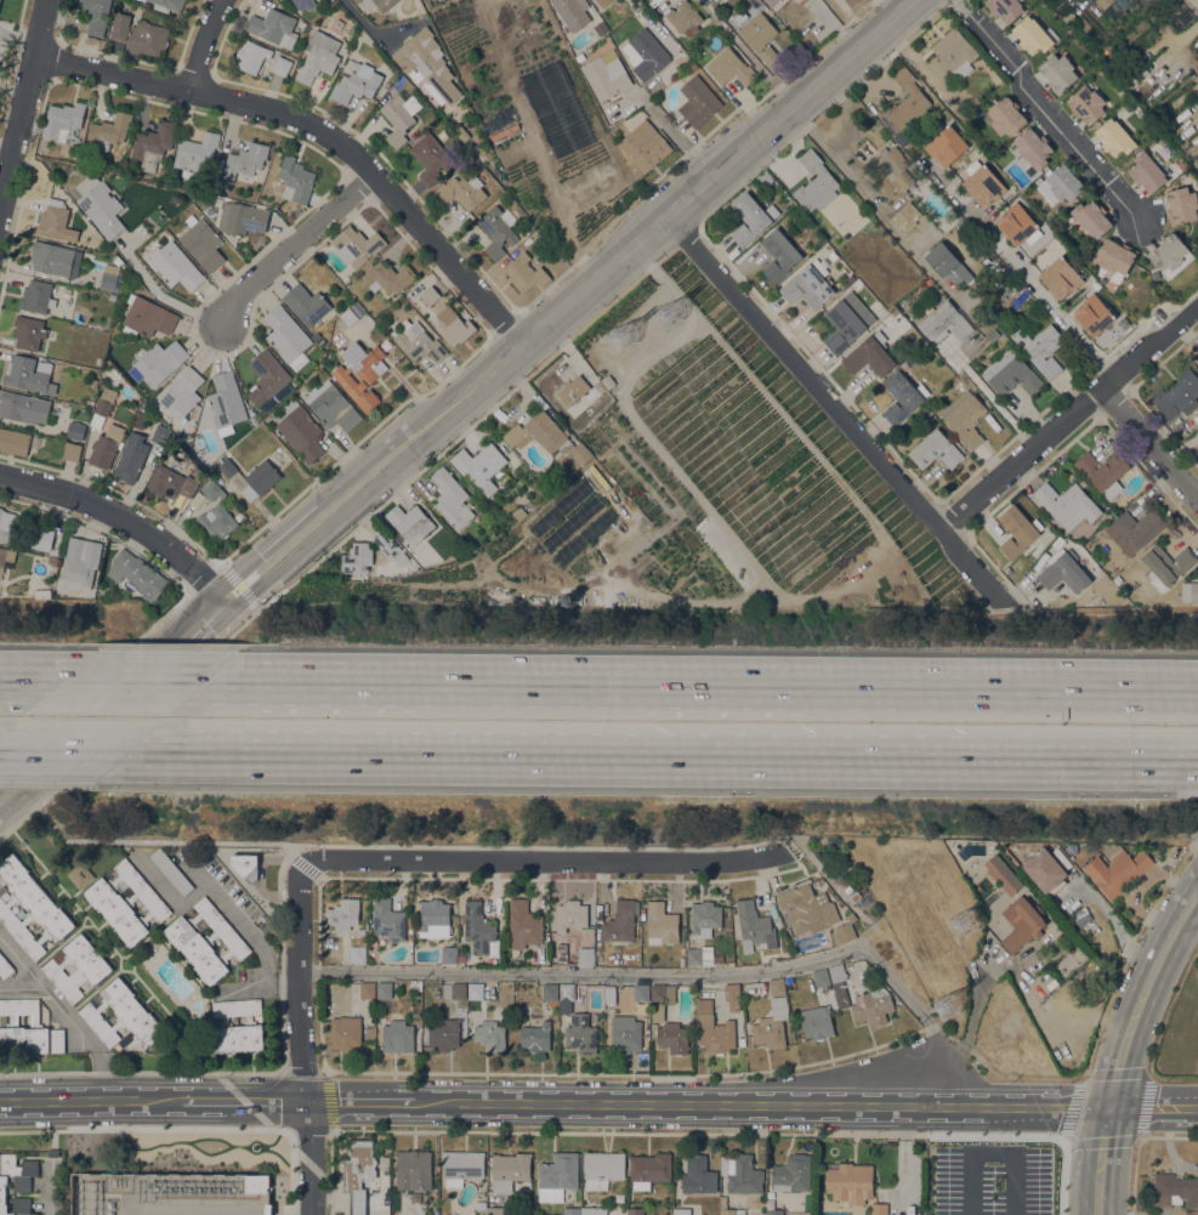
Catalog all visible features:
building: (643, 0)
building: (715, 0)
building: (717, 0)
building: (725, 0)
building: (0, 1)
building: (800, 1)
building: (603, 2)
building: (1103, 2)
building: (170, 4)
building: (302, 4)
building: (376, 4)
building: (776, 4)
building: (632, 7)
building: (1005, 8)
building: (573, 12)
building: (96, 15)
road: (360, 17)
building: (683, 17)
building: (120, 25)
building: (274, 27)
building: (601, 29)
building: (1033, 35)
building: (759, 36)
building: (146, 39)
road: (205, 45)
building: (646, 46)
building: (954, 51)
building: (250, 56)
building: (318, 56)
building: (579, 57)
building: (427, 62)
building: (282, 66)
building: (729, 67)
building: (1058, 73)
building: (606, 74)
building: (356, 81)
building: (697, 101)
building: (908, 101)
road: (23, 102)
building: (1086, 104)
road: (1047, 109)
building: (1005, 115)
building: (397, 119)
building: (63, 121)
road: (318, 130)
building: (108, 131)
building: (1114, 137)
road: (681, 142)
building: (153, 144)
building: (643, 144)
building: (947, 146)
building: (1033, 147)
building: (195, 153)
building: (431, 158)
building: (243, 161)
building: (892, 169)
building: (1147, 172)
building: (295, 180)
building: (814, 183)
building: (1060, 184)
building: (216, 186)
building: (983, 186)
building: (461, 191)
building: (252, 193)
building: (98, 204)
building: (217, 204)
building: (1181, 205)
building: (290, 217)
building: (751, 217)
building: (904, 217)
building: (1091, 217)
building: (242, 218)
building: (52, 221)
building: (1016, 223)
building: (944, 228)
building: (496, 229)
building: (201, 242)
building: (91, 243)
road: (291, 245)
building: (357, 245)
building: (1169, 251)
road: (669, 252)
building: (779, 255)
building: (833, 255)
building: (1115, 256)
building: (55, 259)
building: (944, 262)
building: (175, 266)
building: (844, 271)
building: (523, 272)
building: (1153, 273)
building: (108, 277)
building: (388, 277)
building: (1060, 277)
road: (1028, 278)
building: (810, 284)
building: (430, 295)
building: (36, 296)
building: (306, 303)
power tower: (672, 314)
building: (1094, 314)
building: (147, 317)
building: (348, 317)
building: (944, 323)
building: (453, 325)
building: (842, 325)
building: (29, 331)
building: (286, 333)
building: (995, 335)
power tower: (628, 340)
building: (419, 341)
building: (1040, 348)
building: (869, 354)
building: (1197, 357)
building: (158, 362)
building: (25, 373)
building: (360, 373)
building: (1011, 373)
building: (266, 376)
building: (606, 381)
building: (575, 390)
building: (181, 392)
building: (1179, 394)
building: (902, 397)
road: (456, 399)
building: (226, 402)
road: (994, 402)
building: (333, 405)
building: (23, 407)
building: (103, 407)
road: (833, 408)
building: (964, 418)
road: (1069, 419)
building: (75, 430)
building: (300, 430)
building: (536, 431)
building: (159, 435)
road: (456, 438)
building: (13, 441)
building: (106, 445)
road: (1151, 445)
building: (1197, 448)
building: (936, 449)
building: (72, 452)
building: (131, 456)
building: (574, 458)
building: (479, 465)
building: (227, 467)
building: (1102, 472)
building: (260, 479)
building: (171, 482)
building: (211, 490)
building: (452, 498)
building: (1067, 504)
building: (521, 511)
building: (238, 516)
road: (123, 517)
building: (217, 521)
building: (410, 522)
building: (8, 526)
building: (1134, 529)
building: (1017, 530)
building: (41, 538)
building: (385, 541)
building: (357, 557)
building: (1, 558)
building: (401, 558)
building: (52, 560)
building: (79, 563)
building: (1166, 564)
building: (1063, 570)
building: (136, 573)
building: (1119, 577)
road: (238, 584)
building: (1193, 591)
building: (41, 594)
road: (256, 607)
road: (91, 677)
road: (1, 681)
road: (1, 681)
road: (24, 682)
road: (124, 682)
road: (681, 685)
road: (1179, 687)
road: (129, 722)
road: (68, 753)
road: (564, 757)
road: (1096, 761)
road: (155, 840)
building: (964, 844)
building: (972, 845)
road: (289, 853)
road: (284, 856)
road: (541, 858)
road: (303, 865)
building: (1045, 870)
building: (1117, 870)
building: (171, 871)
building: (1003, 874)
building: (79, 875)
road: (319, 876)
building: (855, 896)
building: (125, 901)
building: (806, 907)
building: (30, 908)
building: (345, 914)
building: (570, 914)
building: (851, 916)
building: (704, 918)
building: (433, 919)
building: (460, 919)
building: (388, 920)
building: (620, 921)
power tower: (965, 921)
building: (523, 924)
building: (662, 924)
road: (870, 924)
building: (754, 926)
building: (1022, 926)
building: (479, 930)
building: (844, 932)
road: (249, 935)
building: (206, 939)
building: (808, 949)
building: (357, 953)
building: (449, 954)
building: (702, 954)
building: (585, 955)
building: (461, 958)
building: (5, 967)
building: (95, 967)
road: (674, 972)
building: (836, 972)
building: (821, 977)
building: (1050, 980)
road: (297, 982)
road: (269, 983)
road: (285, 983)
road: (19, 986)
building: (414, 986)
building: (777, 987)
building: (367, 989)
building: (384, 989)
building: (475, 990)
building: (459, 992)
building: (550, 992)
building: (641, 992)
building: (663, 992)
road: (1145, 993)
building: (566, 995)
building: (732, 995)
power tower: (947, 1004)
building: (873, 1005)
building: (658, 1011)
road: (66, 1014)
building: (121, 1015)
building: (816, 1022)
building: (772, 1024)
building: (238, 1026)
building: (28, 1028)
building: (712, 1028)
building: (345, 1032)
building: (443, 1032)
building: (580, 1033)
building: (625, 1034)
building: (490, 1035)
building: (397, 1037)
building: (535, 1037)
building: (672, 1037)
road: (320, 1039)
building: (740, 1040)
road: (280, 1071)
road: (325, 1071)
road: (301, 1072)
road: (350, 1100)
road: (246, 1101)
road: (92, 1102)
road: (750, 1102)
road: (1153, 1106)
road: (184, 1130)
road: (311, 1130)
road: (333, 1131)
road: (289, 1132)
road: (693, 1134)
building: (53, 1152)
road: (992, 1154)
road: (310, 1157)
road: (1102, 1159)
building: (461, 1166)
building: (414, 1169)
building: (602, 1169)
building: (649, 1169)
building: (509, 1170)
building: (358, 1171)
building: (793, 1173)
building: (742, 1174)
building: (698, 1175)
building: (557, 1176)
building: (848, 1181)
building: (16, 1182)
building: (257, 1183)
road: (971, 1185)
road: (1012, 1185)
road: (49, 1187)
building: (1174, 1191)
power substation: (171, 1193)
building: (415, 1197)
building: (479, 1204)
building: (728, 1208)
building: (879, 1209)
building: (494, 1210)
building: (570, 1210)
building: (594, 1210)
building: (635, 1211)
building: (687, 1211)
building: (773, 1211)

